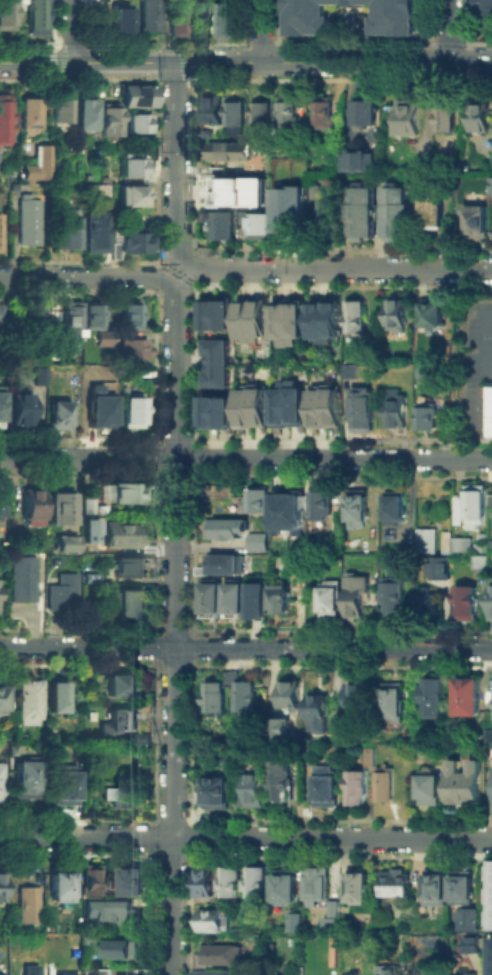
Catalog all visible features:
building: (174, 0)
building: (483, 13)
building: (146, 14)
building: (6, 15)
building: (37, 16)
building: (118, 17)
building: (174, 20)
building: (225, 21)
building: (393, 22)
road: (71, 30)
road: (261, 30)
road: (446, 30)
road: (35, 62)
road: (124, 62)
road: (334, 62)
building: (137, 94)
building: (212, 111)
building: (364, 111)
building: (64, 112)
building: (28, 113)
building: (235, 114)
building: (326, 114)
building: (88, 115)
building: (262, 116)
building: (290, 117)
building: (448, 119)
building: (410, 120)
building: (481, 120)
building: (111, 121)
building: (137, 121)
building: (6, 122)
building: (205, 133)
building: (231, 153)
building: (359, 159)
road: (177, 160)
building: (36, 162)
building: (135, 170)
building: (218, 171)
building: (491, 184)
building: (95, 189)
building: (237, 191)
building: (316, 192)
building: (134, 198)
building: (435, 206)
building: (361, 209)
building: (396, 210)
building: (127, 218)
building: (295, 219)
building: (331, 221)
building: (30, 222)
building: (482, 223)
building: (257, 227)
building: (224, 228)
building: (1, 233)
building: (70, 233)
building: (97, 234)
building: (136, 245)
road: (182, 263)
road: (170, 267)
road: (339, 268)
road: (83, 276)
road: (182, 276)
road: (170, 281)
building: (219, 312)
building: (435, 314)
building: (2, 316)
building: (94, 317)
building: (254, 317)
building: (289, 318)
building: (327, 318)
building: (399, 318)
building: (131, 319)
building: (357, 319)
building: (35, 323)
building: (72, 324)
road: (476, 340)
building: (104, 341)
building: (135, 352)
building: (218, 361)
building: (349, 370)
building: (425, 372)
building: (40, 378)
road: (475, 399)
building: (292, 403)
building: (1, 406)
building: (256, 406)
building: (326, 407)
building: (360, 407)
building: (398, 407)
building: (94, 408)
building: (218, 409)
building: (489, 410)
building: (22, 413)
building: (134, 415)
building: (60, 418)
building: (429, 418)
road: (245, 458)
building: (130, 494)
building: (255, 498)
building: (491, 500)
building: (319, 505)
building: (476, 505)
building: (62, 506)
building: (90, 507)
building: (33, 509)
building: (395, 509)
building: (459, 509)
building: (358, 511)
building: (285, 513)
building: (89, 529)
building: (228, 529)
building: (125, 537)
building: (68, 542)
building: (427, 542)
building: (259, 544)
building: (460, 547)
building: (479, 562)
building: (227, 563)
building: (445, 565)
building: (131, 569)
building: (88, 576)
building: (25, 580)
building: (64, 594)
building: (209, 597)
building: (356, 597)
building: (233, 598)
building: (331, 598)
building: (394, 600)
building: (428, 600)
building: (490, 600)
building: (258, 601)
building: (282, 601)
building: (130, 606)
building: (465, 606)
road: (175, 630)
road: (245, 648)
building: (232, 679)
building: (122, 687)
building: (294, 696)
building: (3, 697)
building: (470, 697)
building: (57, 699)
building: (217, 699)
building: (248, 699)
building: (434, 699)
building: (361, 701)
building: (29, 703)
building: (395, 704)
building: (491, 707)
building: (321, 716)
building: (118, 722)
building: (284, 730)
building: (491, 736)
building: (12, 753)
building: (374, 755)
building: (27, 781)
building: (284, 783)
building: (467, 783)
building: (1, 785)
building: (65, 785)
building: (388, 785)
building: (490, 785)
building: (329, 789)
building: (360, 791)
building: (257, 792)
building: (433, 793)
building: (124, 794)
building: (105, 795)
building: (219, 795)
building: (241, 795)
road: (245, 837)
building: (88, 882)
building: (134, 882)
building: (206, 883)
building: (232, 884)
building: (257, 885)
building: (319, 885)
building: (396, 885)
building: (59, 886)
building: (359, 887)
building: (1, 888)
building: (287, 888)
building: (438, 888)
building: (461, 889)
building: (490, 894)
building: (28, 907)
building: (338, 913)
building: (111, 916)
building: (468, 918)
building: (214, 922)
building: (296, 922)
building: (120, 951)
building: (491, 955)
building: (223, 956)
building: (379, 970)
building: (29, 972)
building: (109, 972)
building: (355, 973)
building: (215, 974)
building: (460, 974)

